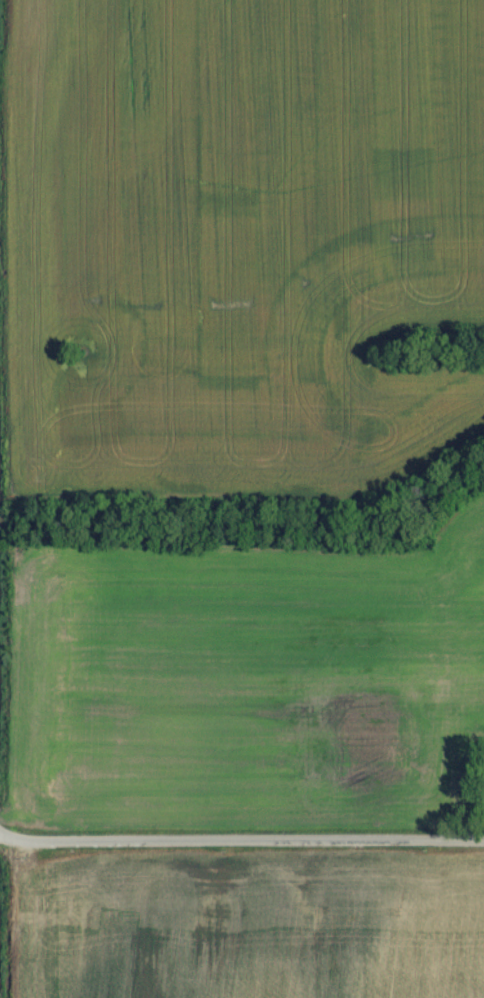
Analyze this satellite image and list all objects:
road: (8, 842)
road: (249, 847)

